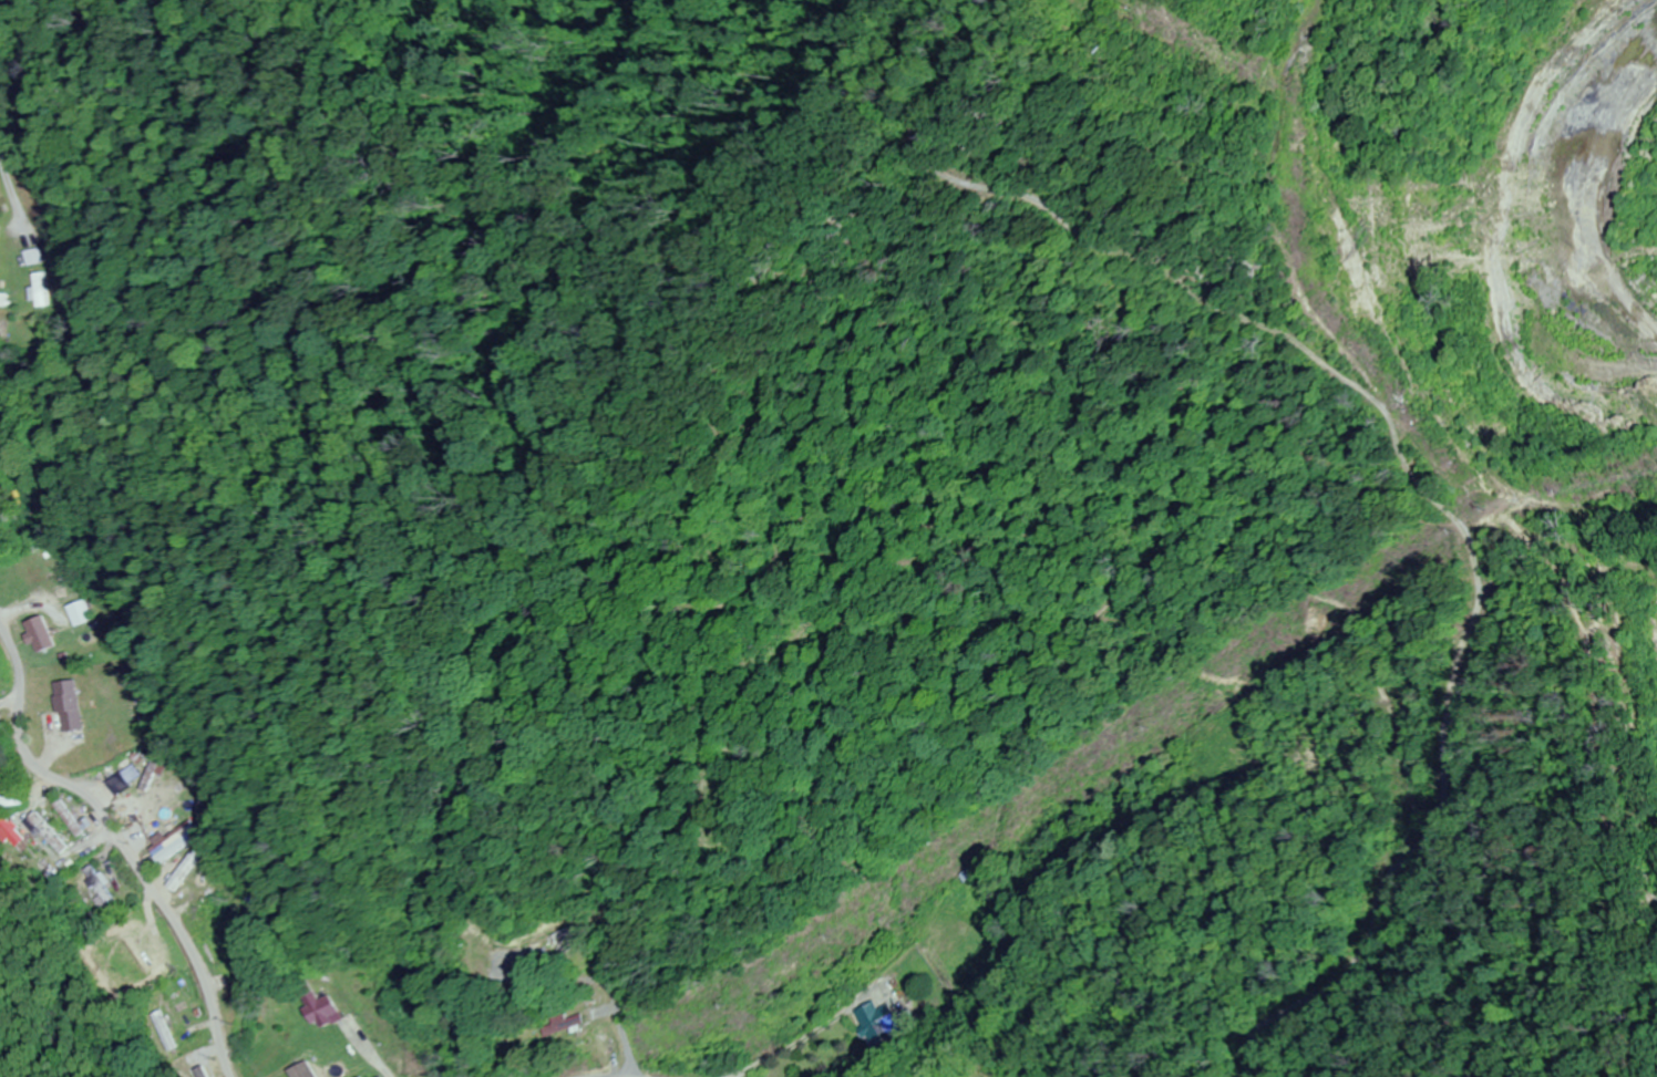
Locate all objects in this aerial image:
building: (32, 256)
building: (40, 289)
building: (82, 612)
building: (43, 634)
building: (71, 705)
building: (141, 811)
building: (70, 818)
building: (175, 824)
building: (51, 832)
road: (121, 850)
building: (186, 868)
building: (103, 888)
building: (572, 940)
building: (144, 952)
building: (321, 1008)
building: (867, 1015)
building: (566, 1025)
road: (617, 1073)
road: (688, 1073)
road: (640, 1074)
building: (367, 1076)

